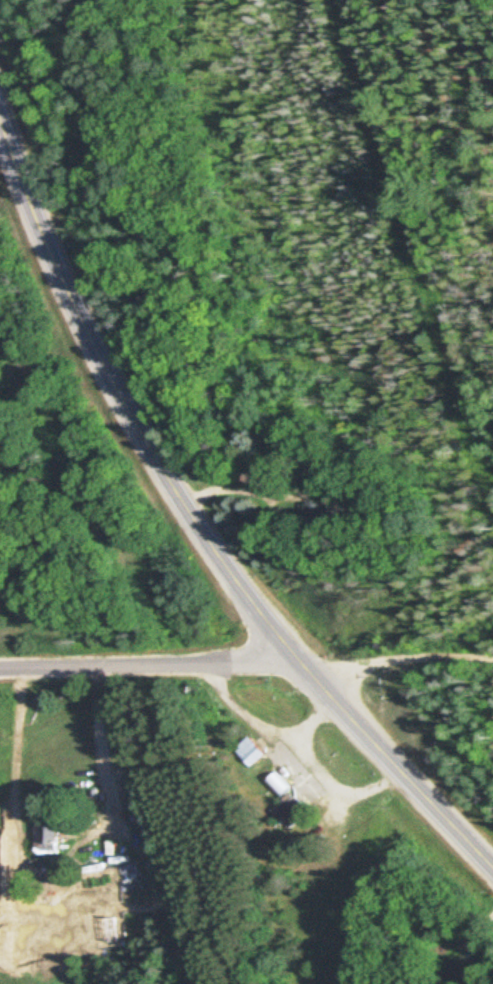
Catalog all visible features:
building: (323, 486)
road: (198, 516)
building: (322, 520)
road: (397, 657)
road: (151, 664)
road: (316, 715)
road: (303, 742)
building: (251, 752)
building: (281, 785)
building: (293, 811)
building: (50, 836)

